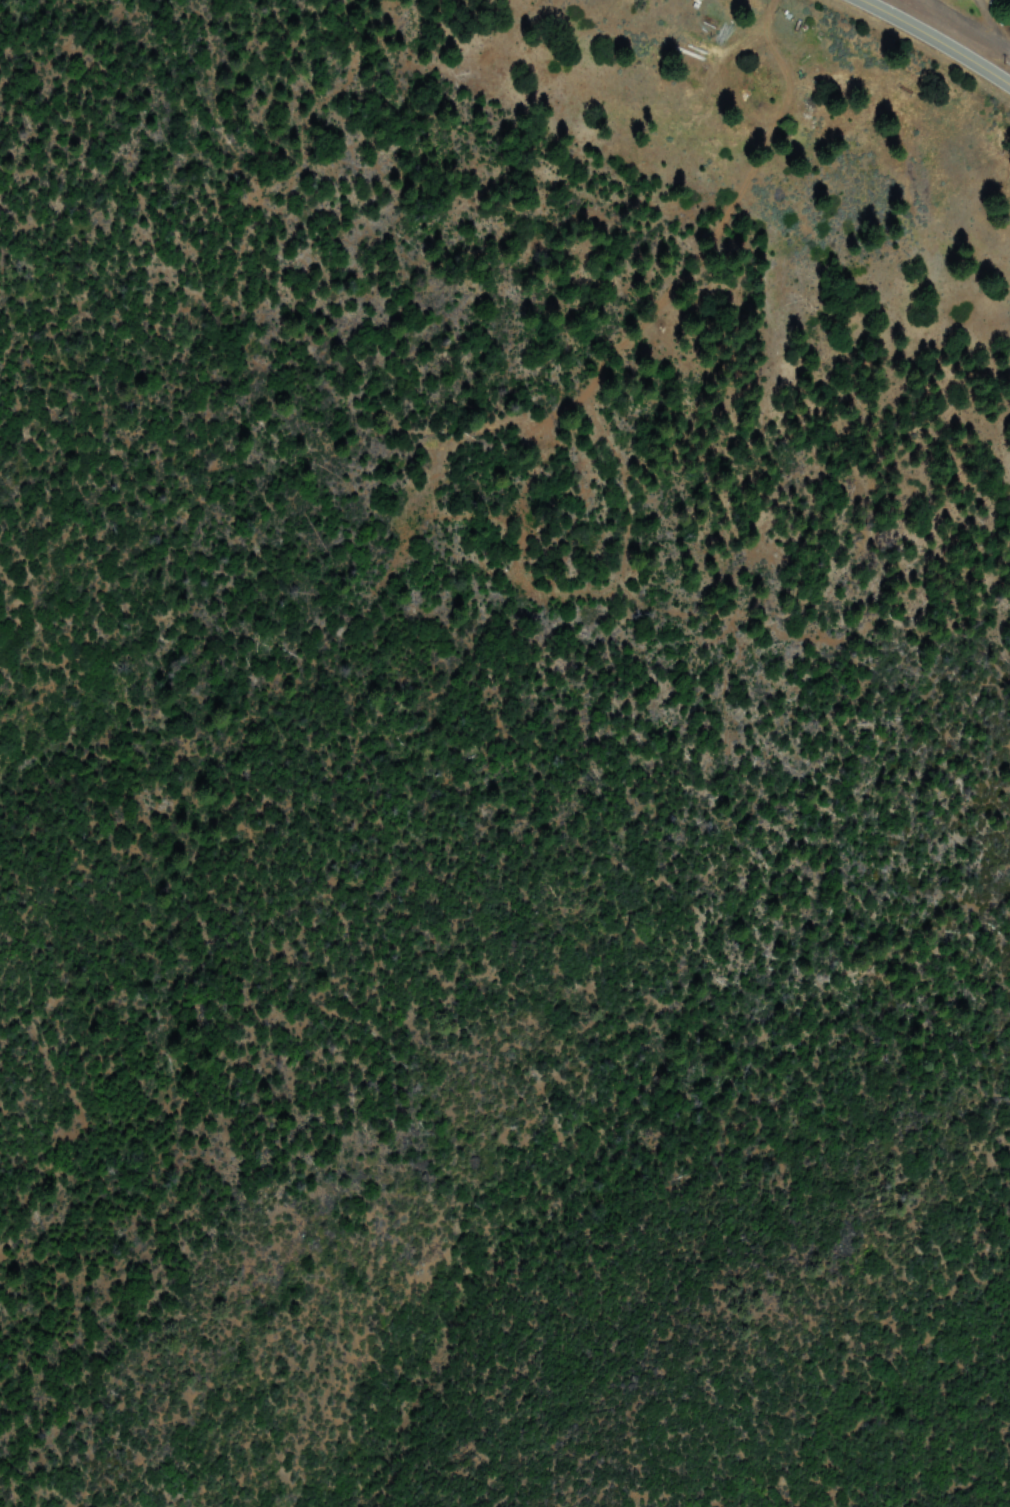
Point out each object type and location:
road: (885, 10)
road: (928, 44)

